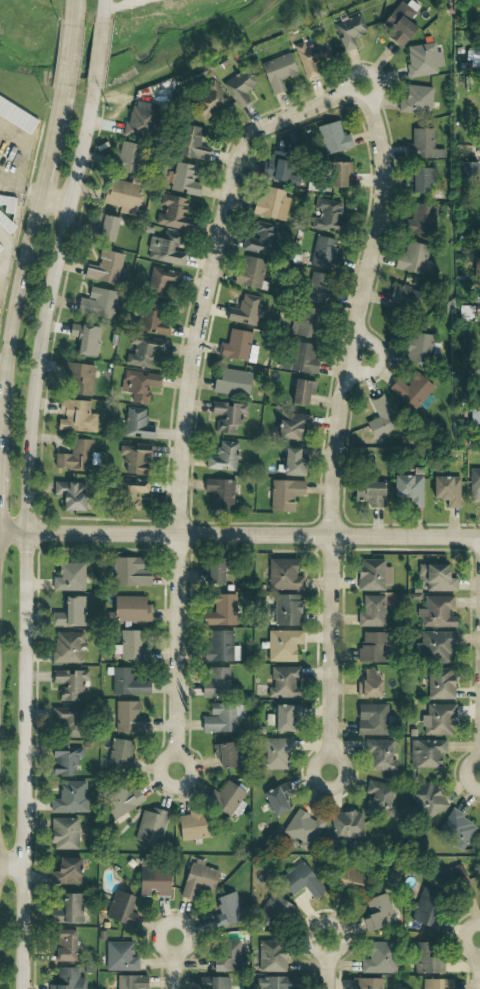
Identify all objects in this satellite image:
road: (116, 7)
road: (73, 9)
road: (102, 11)
building: (398, 25)
building: (348, 32)
river: (129, 51)
road: (69, 52)
road: (97, 55)
building: (308, 57)
building: (473, 57)
building: (423, 59)
building: (279, 69)
building: (239, 87)
building: (415, 100)
building: (209, 101)
building: (16, 113)
building: (140, 121)
building: (332, 137)
building: (191, 144)
building: (422, 145)
building: (128, 158)
building: (280, 168)
building: (469, 169)
building: (341, 174)
road: (11, 175)
building: (186, 179)
building: (419, 179)
building: (123, 195)
road: (43, 197)
building: (271, 203)
building: (173, 213)
building: (6, 217)
building: (328, 218)
building: (420, 219)
building: (106, 228)
building: (260, 239)
building: (0, 243)
building: (165, 247)
building: (0, 248)
building: (323, 252)
road: (23, 254)
building: (411, 257)
building: (104, 267)
building: (477, 267)
building: (250, 272)
building: (161, 281)
building: (318, 288)
building: (402, 298)
building: (95, 301)
building: (244, 310)
building: (153, 318)
building: (309, 322)
building: (87, 340)
building: (235, 346)
building: (418, 348)
building: (142, 351)
road: (356, 356)
building: (303, 358)
road: (2, 360)
building: (80, 379)
building: (232, 383)
building: (140, 384)
building: (411, 390)
building: (302, 392)
road: (340, 395)
building: (72, 415)
building: (227, 416)
building: (474, 416)
building: (381, 418)
road: (185, 420)
building: (136, 424)
building: (292, 425)
building: (76, 457)
building: (222, 457)
building: (133, 459)
building: (291, 462)
building: (474, 484)
building: (444, 487)
building: (407, 489)
building: (132, 492)
building: (219, 492)
building: (368, 493)
building: (283, 494)
building: (69, 496)
road: (24, 535)
road: (239, 535)
building: (212, 570)
building: (129, 571)
building: (282, 575)
building: (372, 575)
building: (67, 577)
building: (435, 577)
building: (130, 609)
building: (286, 609)
building: (220, 611)
building: (371, 611)
building: (69, 612)
building: (436, 612)
building: (131, 645)
building: (282, 645)
building: (220, 646)
building: (436, 646)
building: (67, 647)
building: (372, 647)
building: (127, 682)
building: (215, 682)
building: (283, 682)
building: (69, 683)
building: (439, 683)
building: (367, 684)
building: (283, 716)
building: (127, 717)
building: (221, 718)
building: (372, 719)
building: (437, 719)
building: (64, 722)
building: (273, 753)
building: (426, 753)
building: (119, 754)
building: (224, 754)
building: (379, 755)
building: (63, 760)
building: (68, 797)
building: (378, 797)
building: (226, 798)
building: (124, 799)
building: (274, 799)
building: (425, 801)
building: (346, 824)
building: (192, 826)
building: (149, 827)
building: (456, 829)
building: (301, 830)
building: (63, 833)
road: (10, 864)
building: (64, 871)
building: (350, 878)
building: (449, 878)
building: (197, 879)
building: (300, 881)
building: (152, 882)
building: (226, 904)
building: (68, 908)
building: (120, 909)
building: (376, 912)
building: (424, 912)
building: (276, 914)
building: (64, 945)
building: (224, 956)
building: (269, 956)
building: (118, 957)
building: (378, 958)
building: (427, 959)
road: (328, 963)
road: (173, 965)
road: (477, 965)
building: (67, 979)
building: (132, 982)
building: (275, 982)
building: (216, 983)
building: (367, 983)
building: (436, 984)

